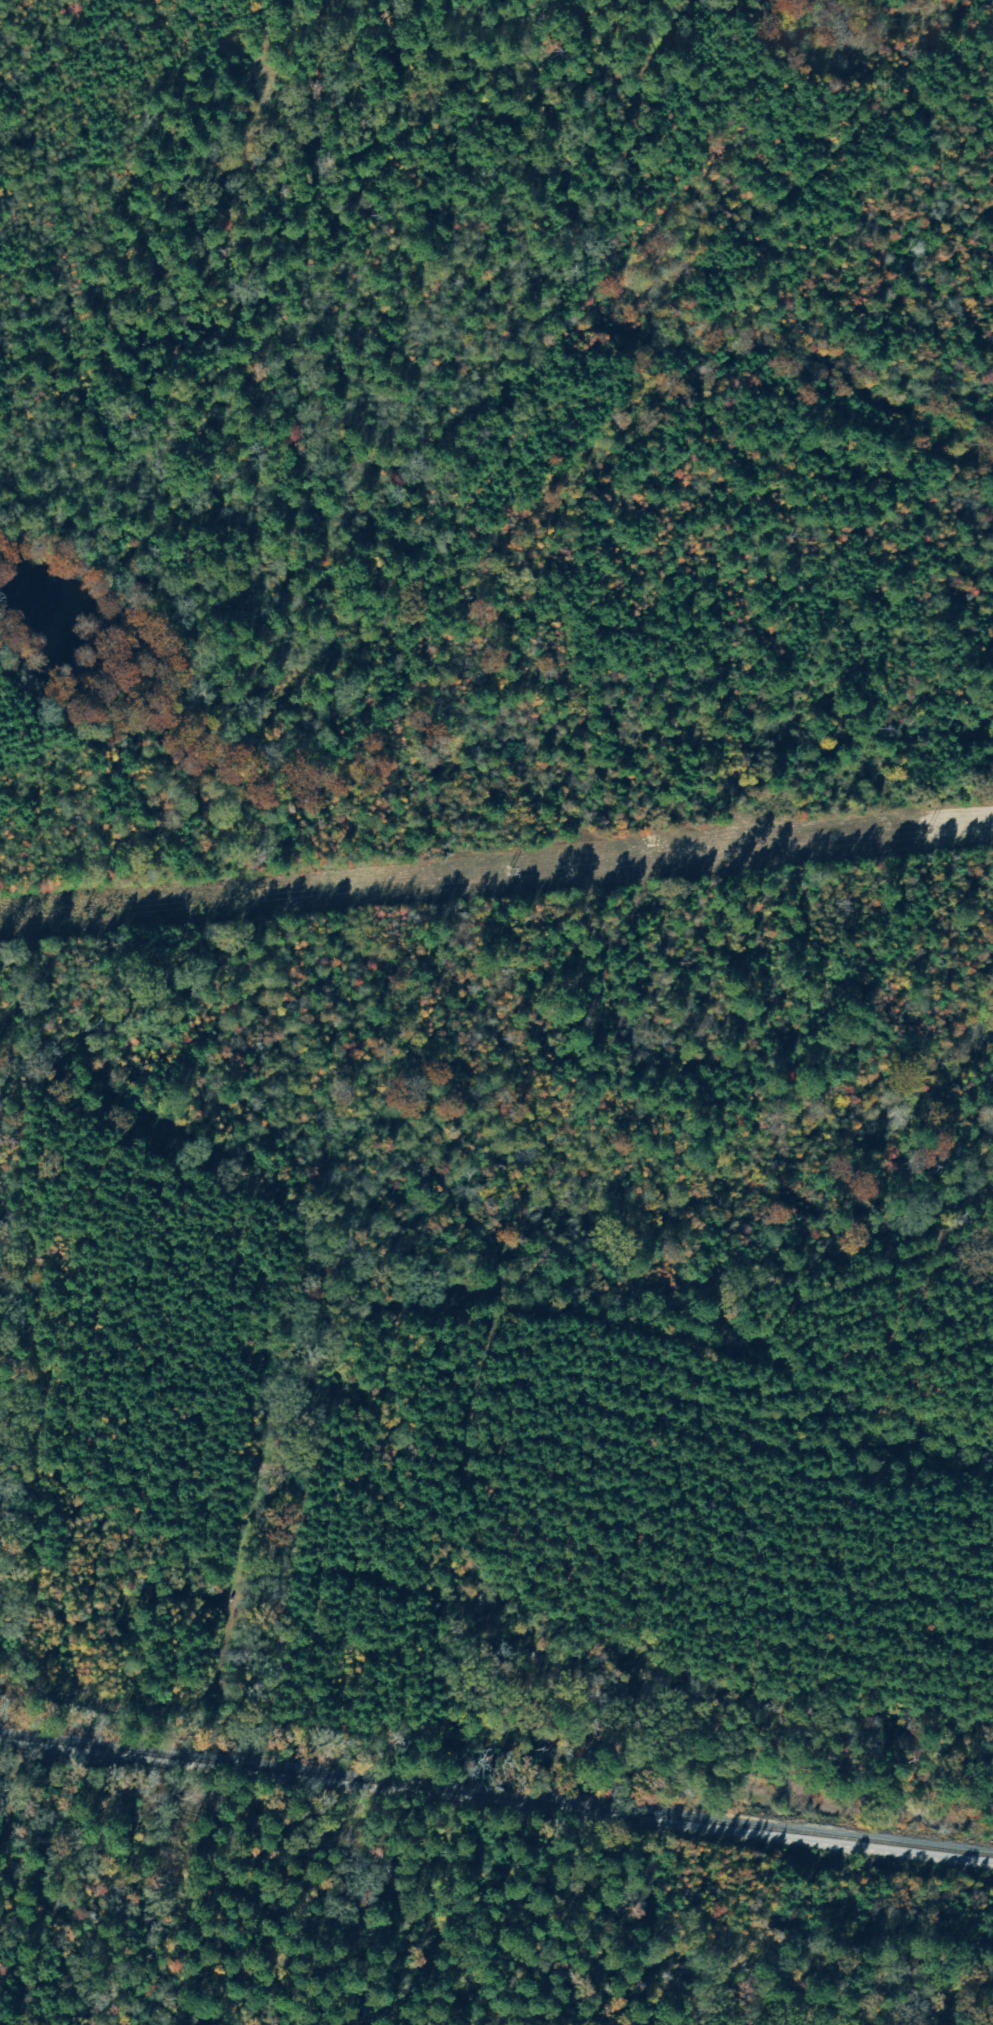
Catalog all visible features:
power tower: (929, 830)
power tower: (510, 871)
railway: (496, 1794)
road: (18, 1880)

